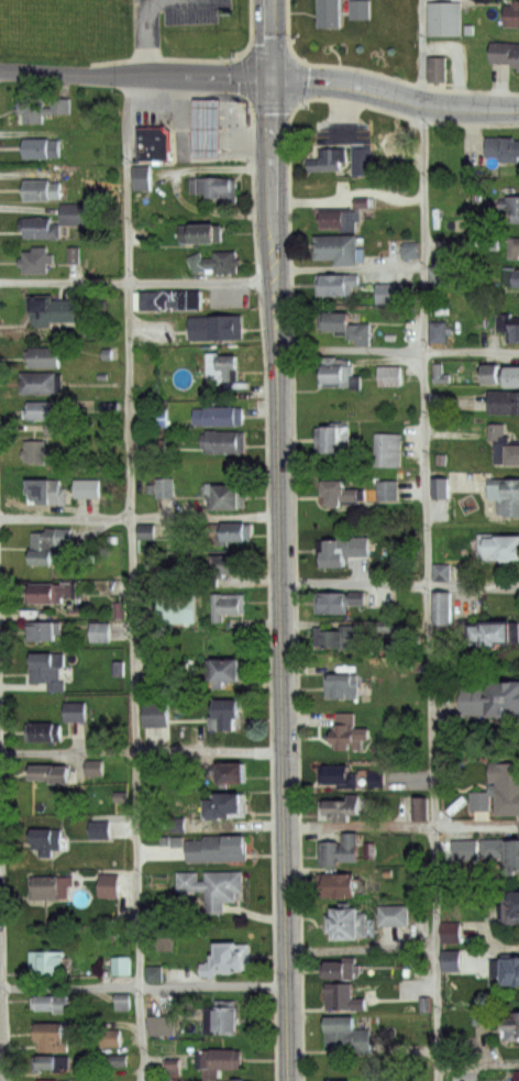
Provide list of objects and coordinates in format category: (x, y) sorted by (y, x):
building: (358, 10)
building: (329, 14)
building: (511, 15)
parking lot: (174, 16)
building: (445, 21)
crop: (56, 23)
road: (145, 34)
building: (508, 55)
building: (435, 69)
road: (261, 78)
traffic signals: (270, 79)
building: (34, 109)
building: (396, 143)
building: (155, 145)
building: (36, 147)
building: (504, 147)
building: (329, 161)
building: (362, 161)
building: (140, 178)
building: (214, 186)
building: (42, 190)
building: (511, 205)
building: (338, 218)
building: (43, 229)
building: (205, 233)
building: (516, 249)
building: (340, 251)
building: (407, 251)
building: (38, 261)
building: (217, 262)
road: (349, 271)
building: (512, 278)
road: (137, 280)
building: (336, 285)
building: (398, 295)
building: (224, 297)
building: (169, 301)
building: (51, 311)
building: (441, 313)
building: (218, 329)
building: (347, 329)
building: (508, 329)
building: (437, 332)
road: (398, 353)
building: (45, 359)
building: (218, 364)
building: (341, 372)
building: (387, 376)
building: (500, 376)
building: (38, 384)
building: (506, 402)
building: (43, 410)
building: (155, 417)
building: (218, 417)
building: (334, 440)
building: (224, 442)
building: (389, 450)
building: (34, 452)
building: (515, 456)
building: (163, 487)
building: (88, 489)
building: (386, 490)
building: (46, 493)
building: (344, 494)
building: (228, 497)
building: (507, 497)
road: (141, 516)
building: (236, 532)
building: (218, 533)
road: (283, 540)
road: (427, 540)
building: (48, 544)
building: (499, 549)
building: (333, 551)
building: (346, 560)
building: (235, 566)
building: (441, 572)
road: (134, 577)
road: (400, 586)
building: (49, 594)
building: (339, 603)
building: (225, 607)
building: (177, 609)
building: (445, 610)
building: (385, 627)
building: (44, 630)
building: (98, 632)
building: (497, 636)
building: (344, 640)
building: (49, 670)
building: (225, 672)
building: (163, 681)
building: (343, 687)
building: (492, 697)
building: (76, 710)
building: (229, 713)
building: (156, 714)
building: (44, 730)
building: (351, 730)
road: (141, 751)
building: (93, 768)
building: (52, 771)
building: (231, 771)
building: (340, 773)
building: (505, 784)
building: (228, 802)
building: (340, 807)
building: (177, 825)
road: (400, 825)
building: (48, 838)
building: (219, 847)
building: (341, 849)
building: (504, 851)
building: (341, 882)
building: (111, 883)
building: (53, 884)
building: (216, 887)
building: (511, 906)
building: (396, 916)
building: (350, 923)
building: (448, 931)
road: (361, 946)
building: (232, 957)
building: (453, 960)
building: (48, 963)
building: (121, 966)
building: (343, 968)
building: (507, 968)
road: (142, 989)
building: (344, 995)
building: (52, 1002)
building: (482, 1015)
building: (223, 1019)
building: (164, 1025)
building: (510, 1030)
building: (350, 1034)
building: (55, 1035)
building: (224, 1058)
building: (47, 1063)
road: (478, 1066)
building: (517, 1077)
building: (240, 1079)
building: (42, 1080)
building: (56, 1080)
building: (341, 1080)

